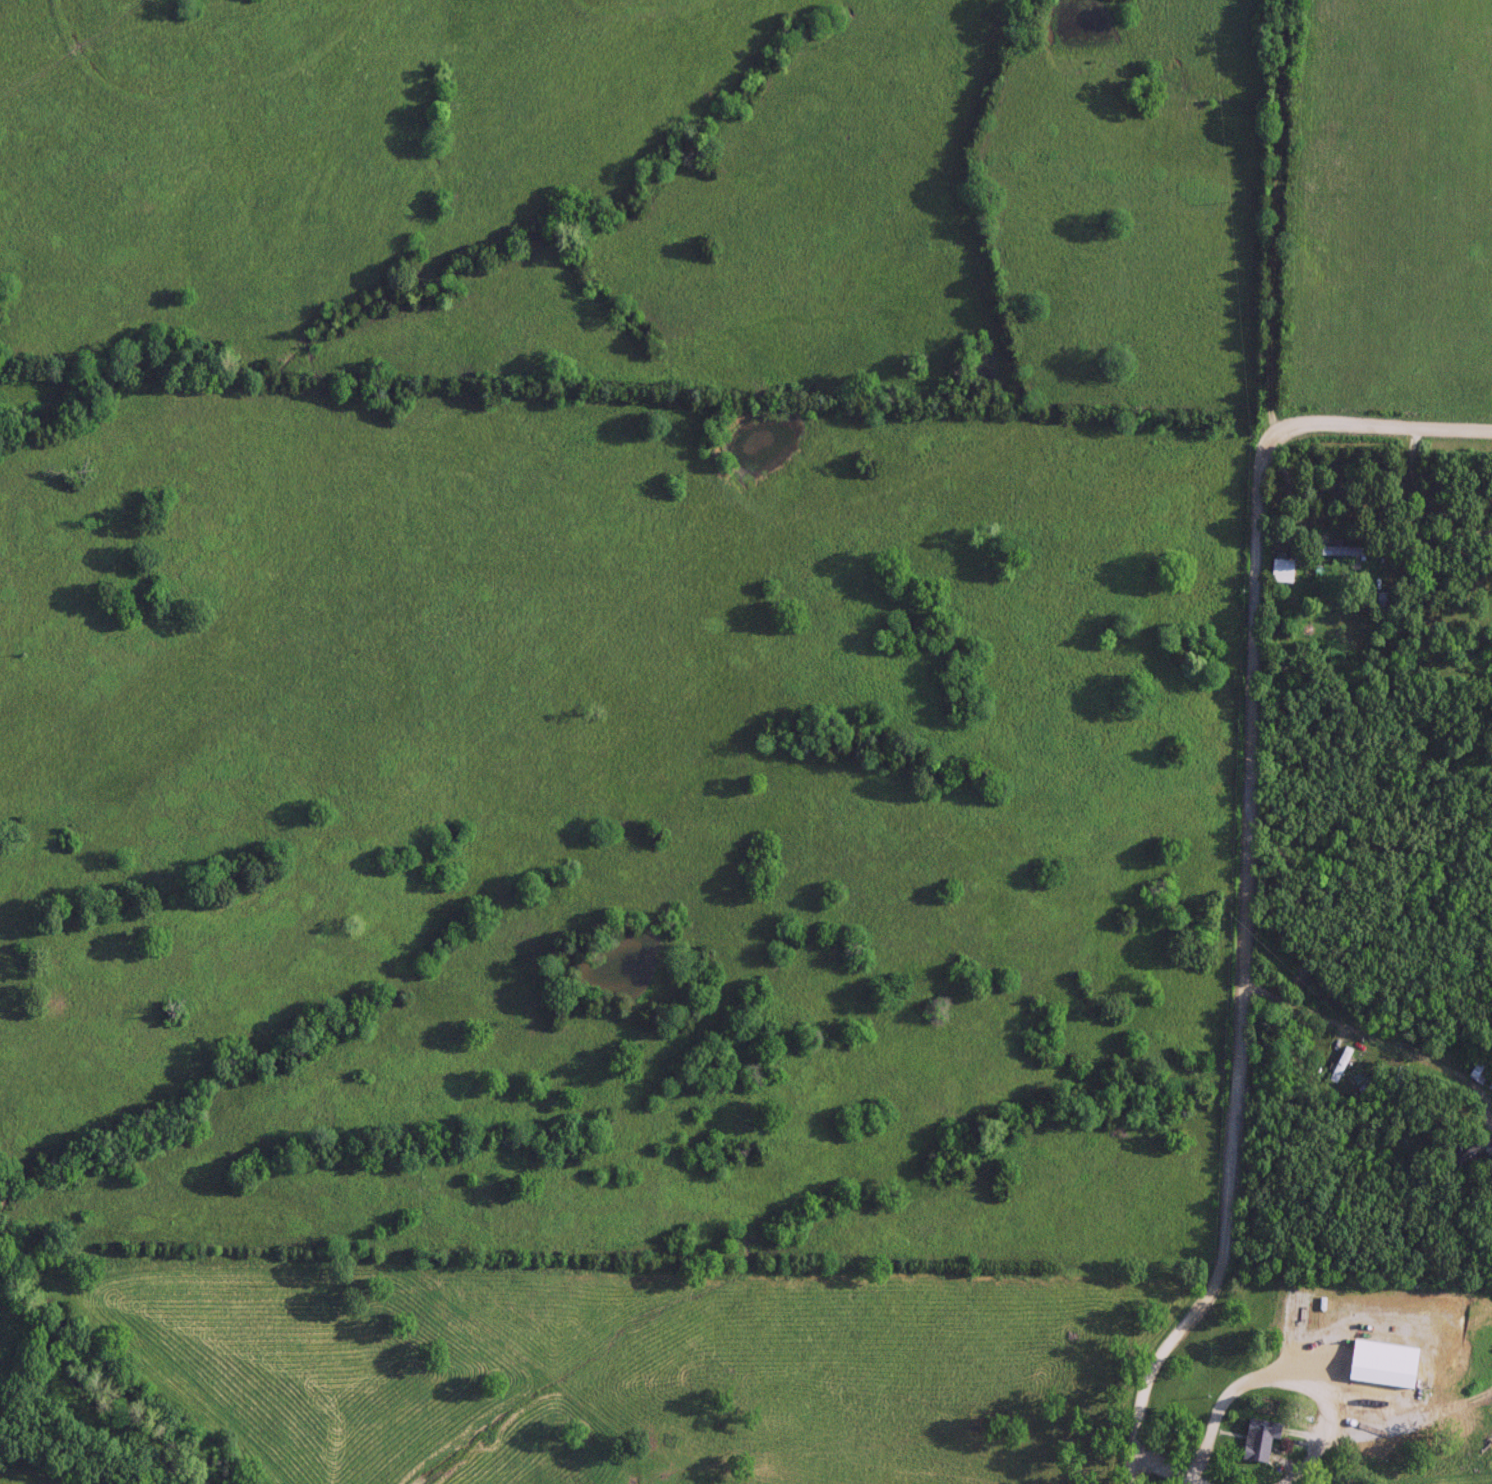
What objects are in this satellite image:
road: (1377, 429)
building: (1348, 551)
building: (1281, 569)
building: (1382, 598)
road: (1247, 753)
road: (1389, 1039)
building: (1478, 1072)
building: (1473, 1149)
road: (1279, 1381)
building: (1254, 1439)
road: (1163, 1470)

